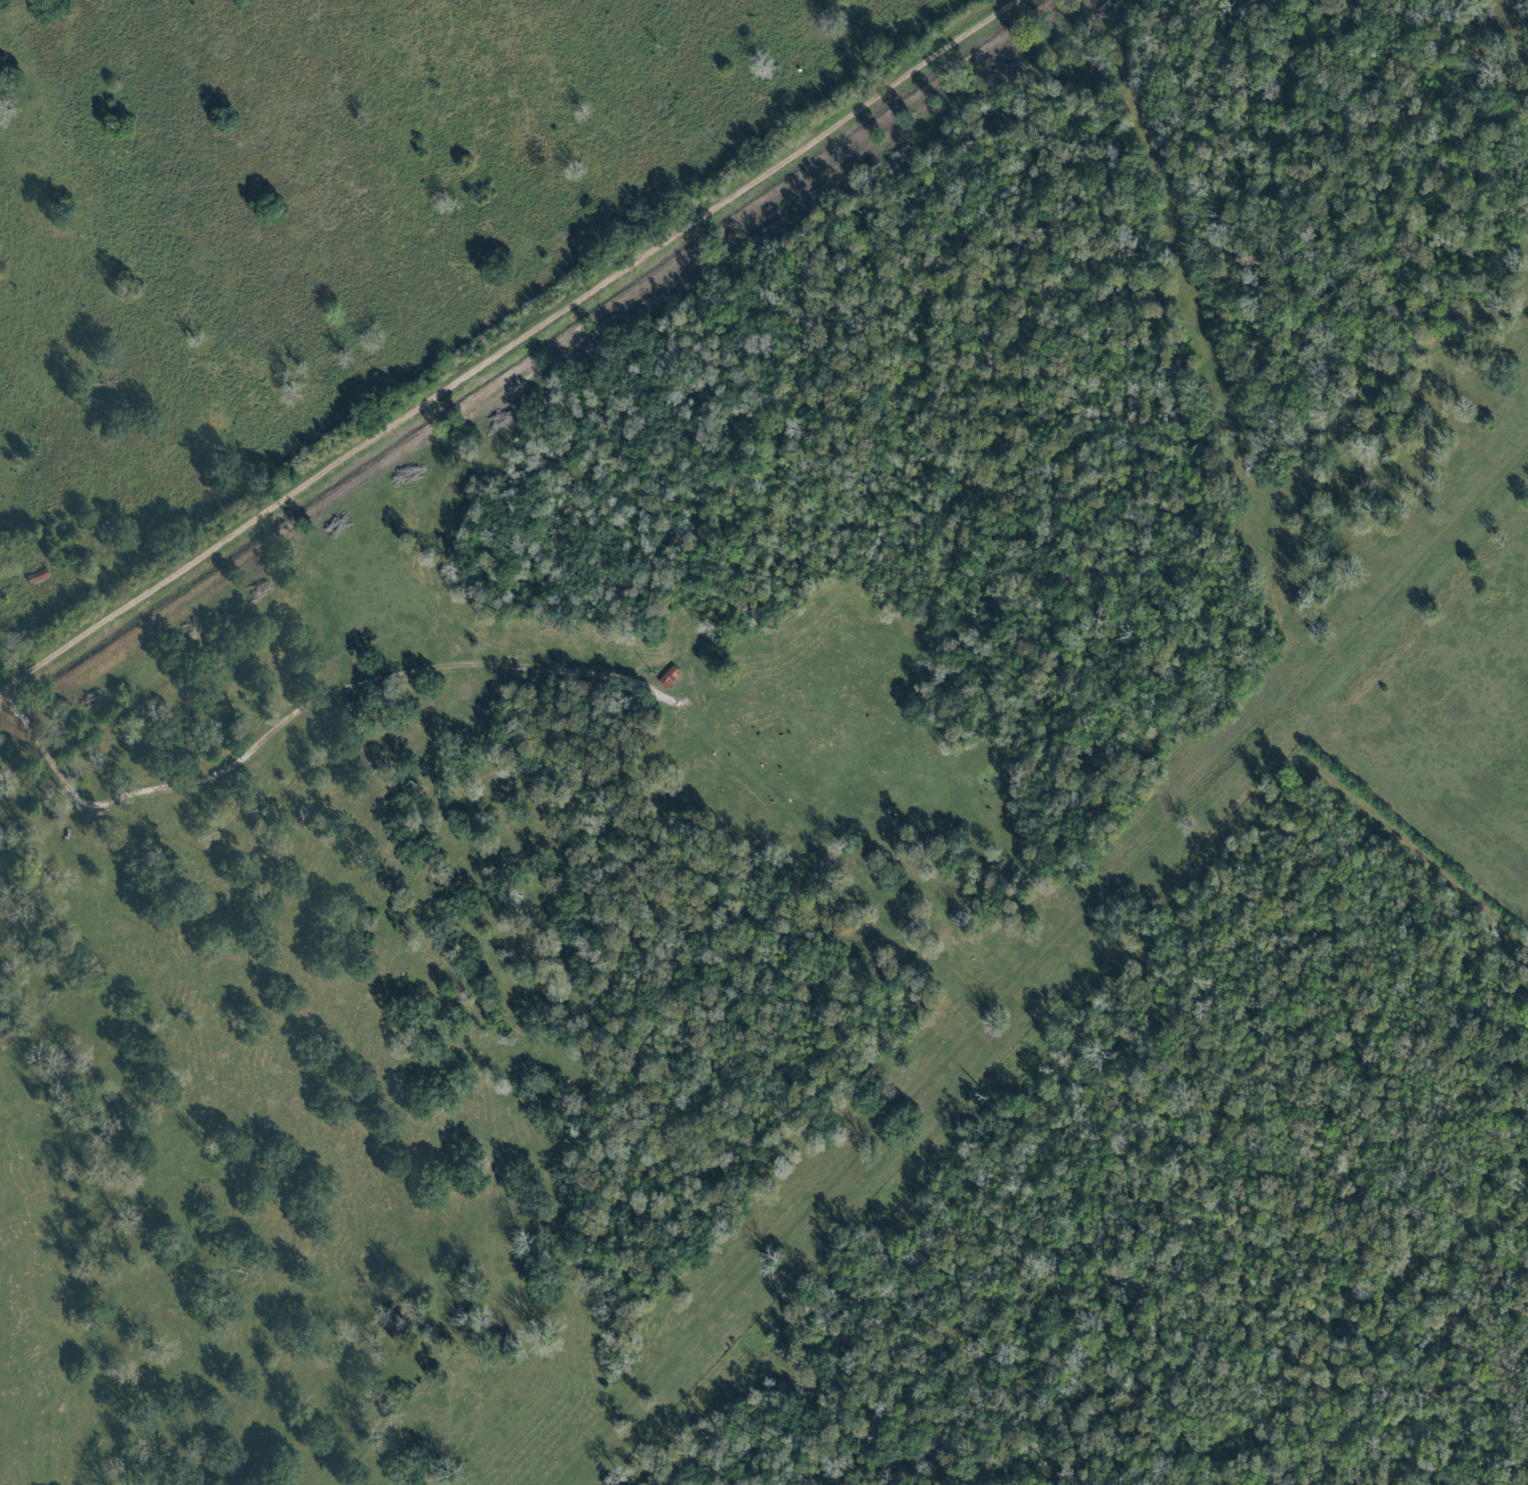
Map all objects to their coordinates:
road: (517, 347)
road: (520, 668)
building: (671, 677)
road: (2, 696)
road: (1043, 992)

